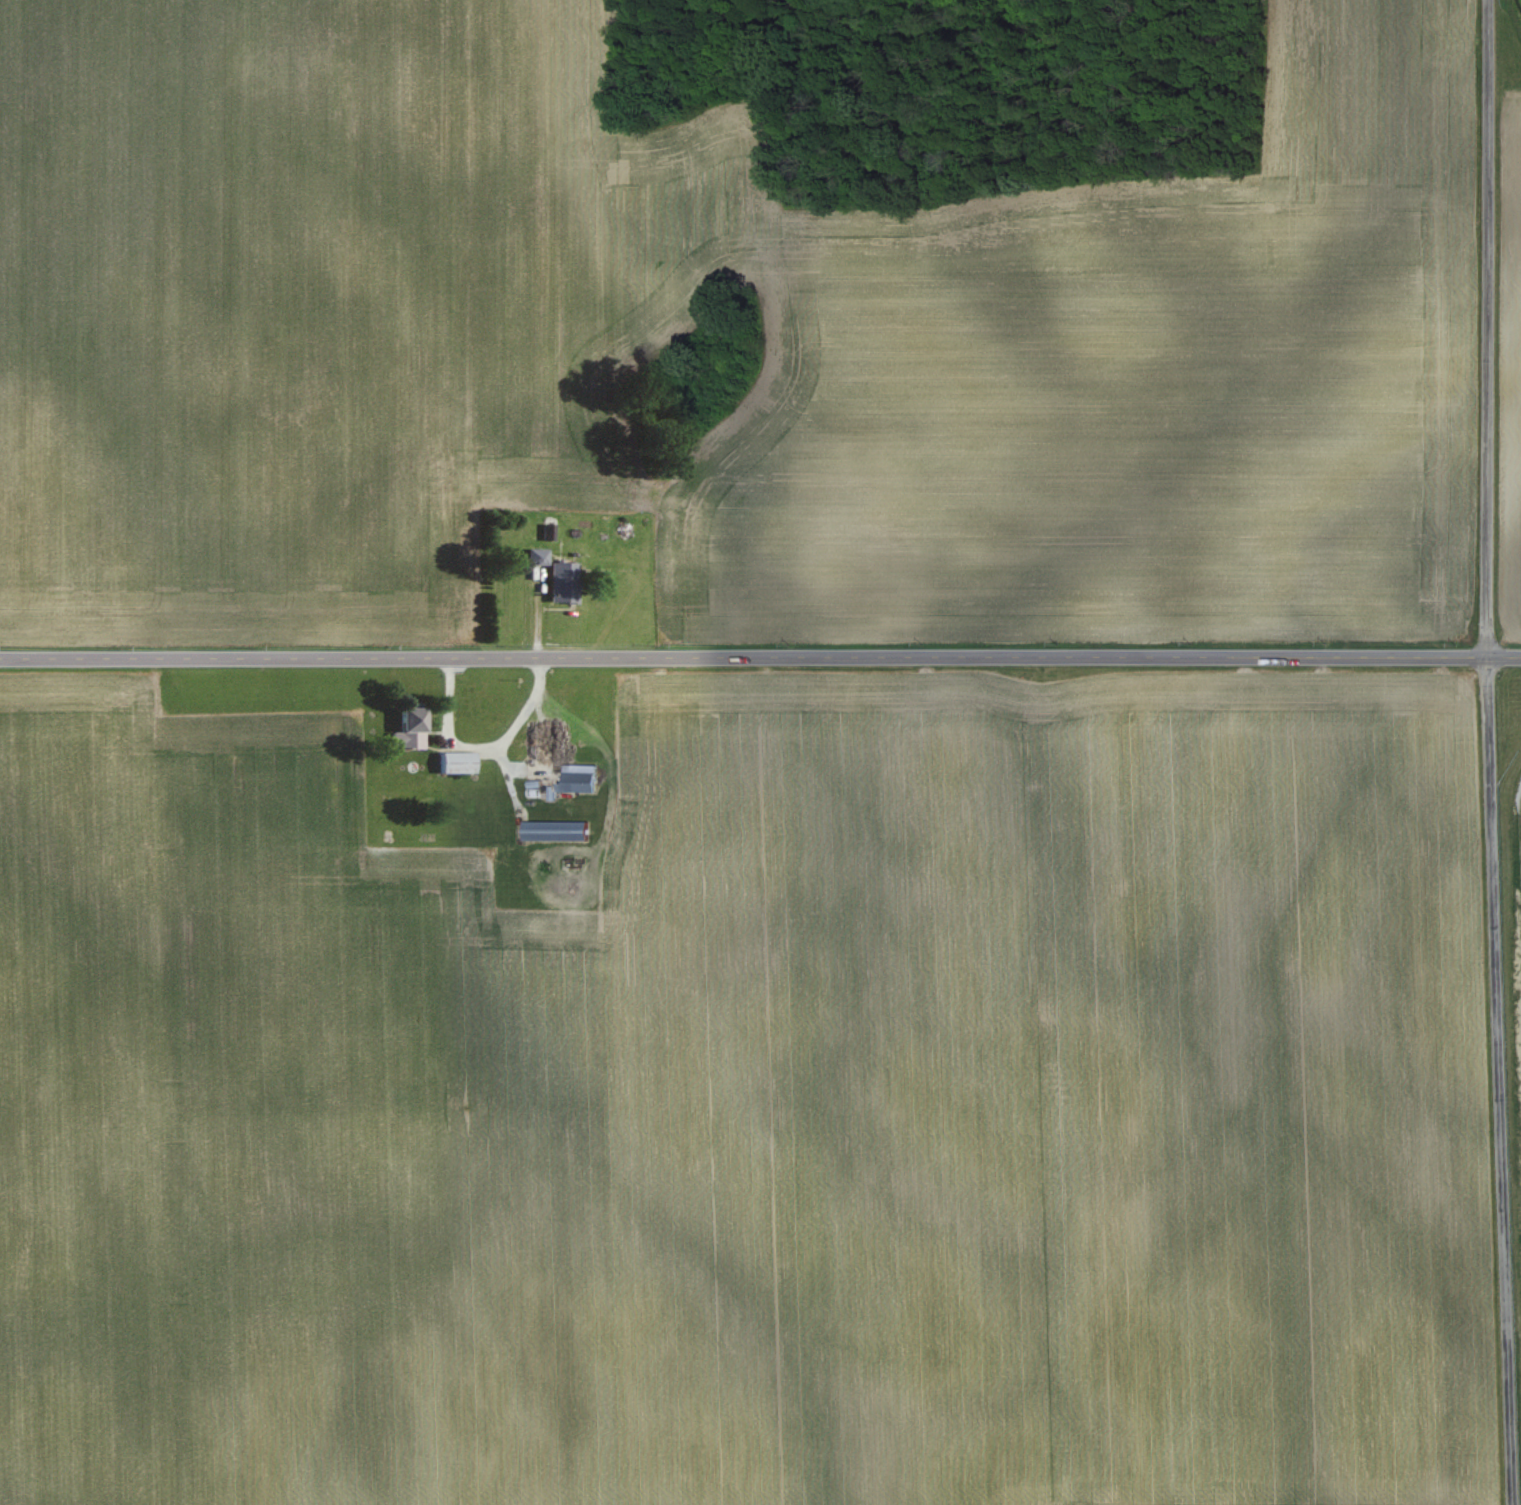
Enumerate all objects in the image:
building: (567, 582)
road: (760, 658)
building: (415, 727)
building: (540, 738)
road: (1488, 752)
building: (460, 761)
building: (584, 777)
building: (559, 830)
quarry: (1512, 930)

